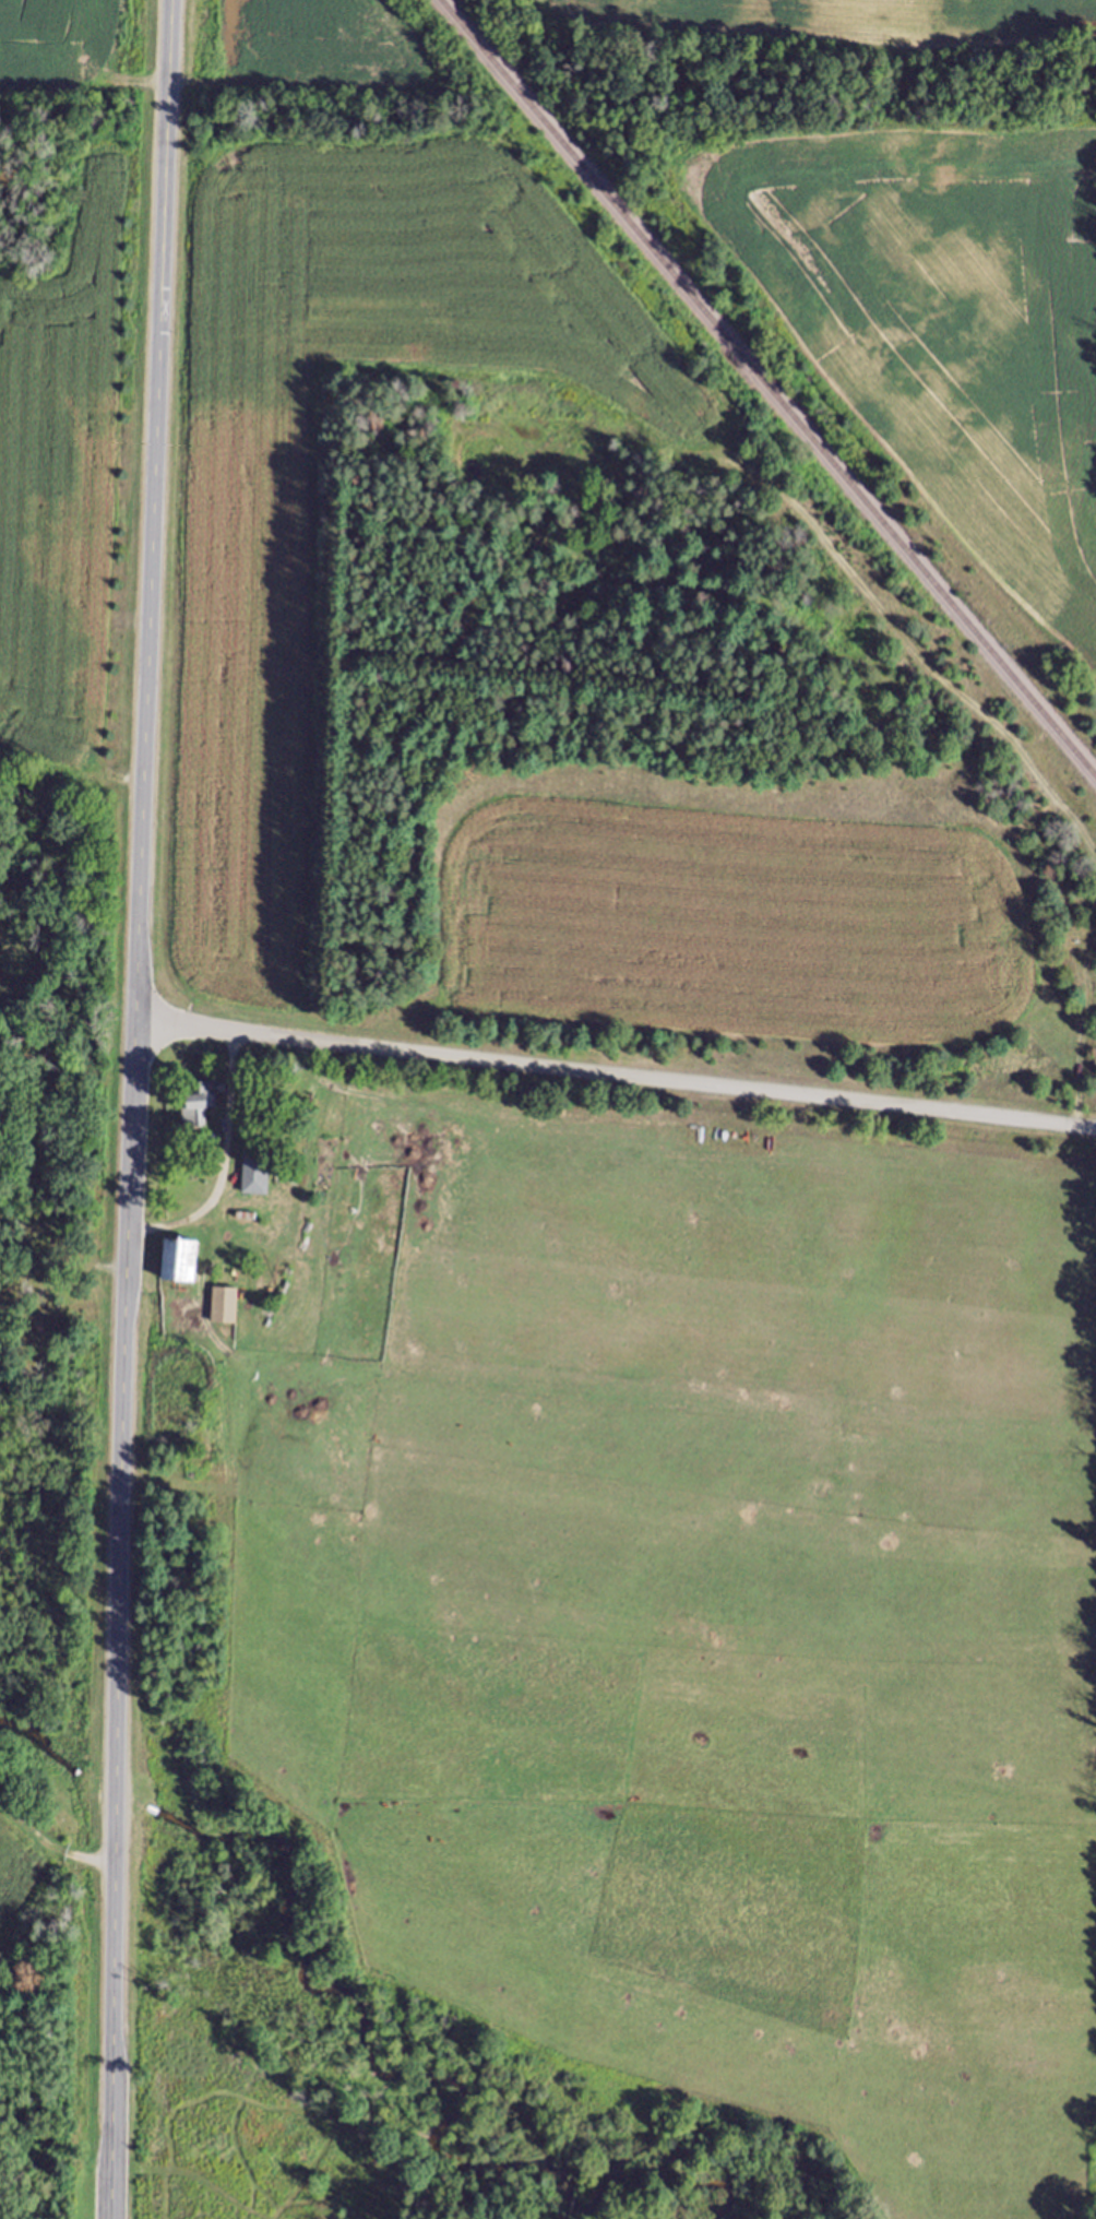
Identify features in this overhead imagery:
railway: (766, 391)
road: (72, 651)
road: (139, 885)
road: (616, 1080)
building: (194, 1114)
building: (253, 1183)
building: (172, 1271)
building: (39, 1300)
building: (221, 1316)
road: (117, 1780)
road: (114, 2004)

